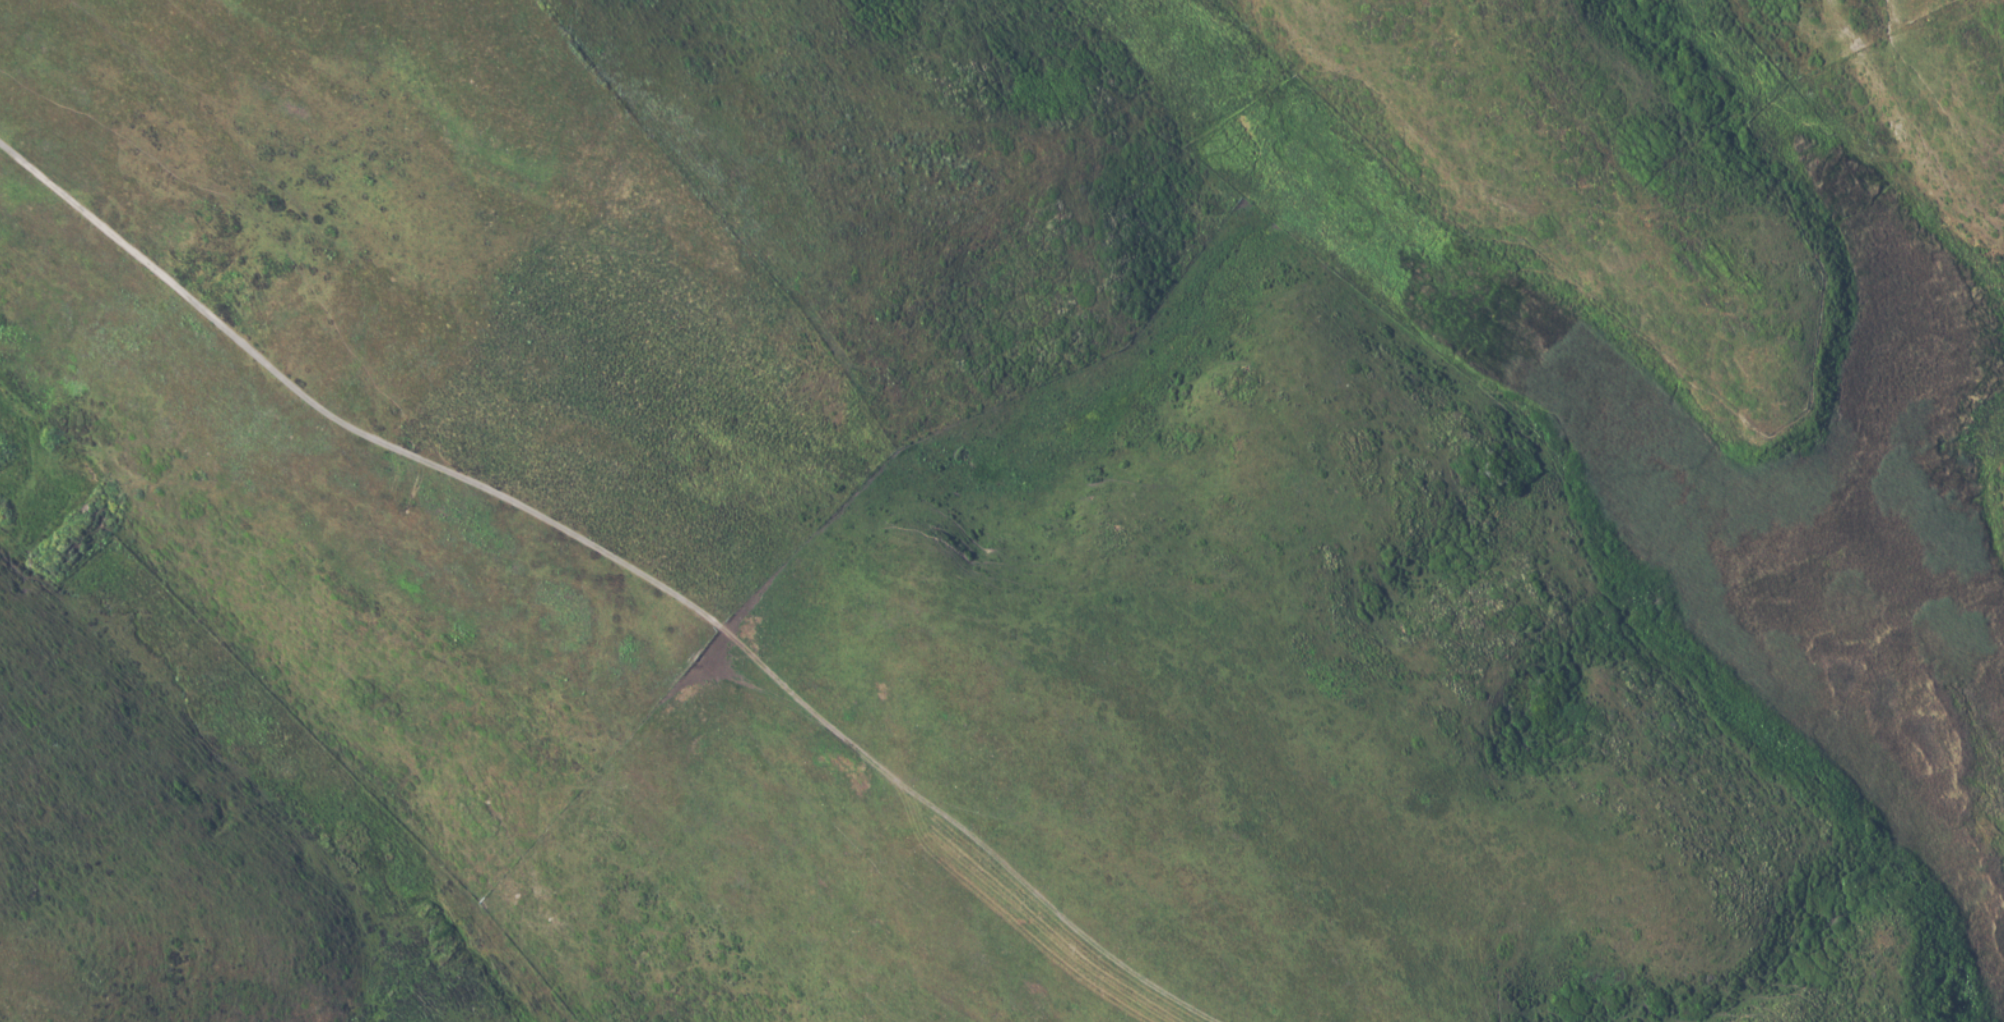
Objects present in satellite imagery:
road: (622, 568)

